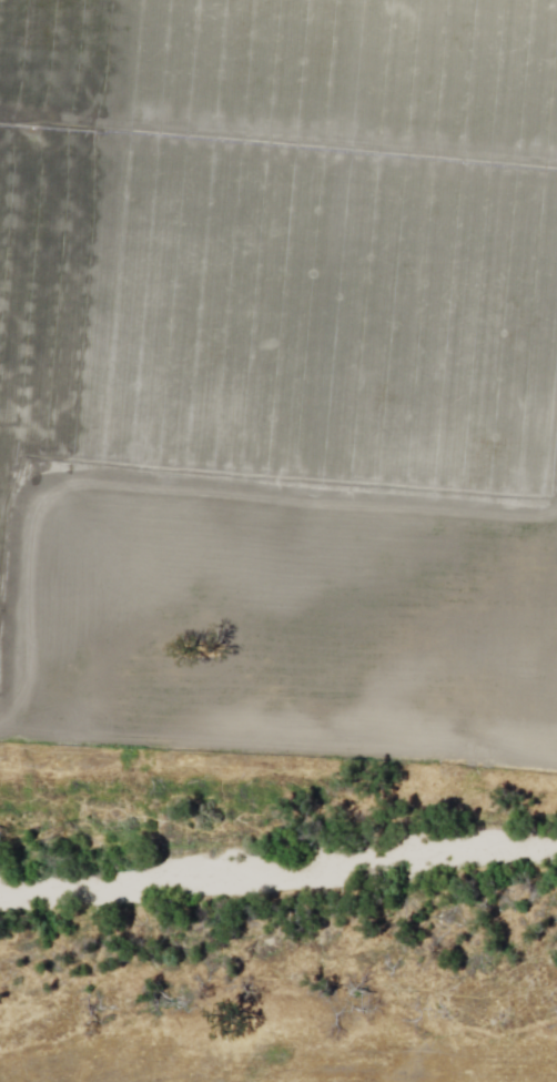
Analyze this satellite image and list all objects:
crop: (280, 370)
river: (278, 858)

